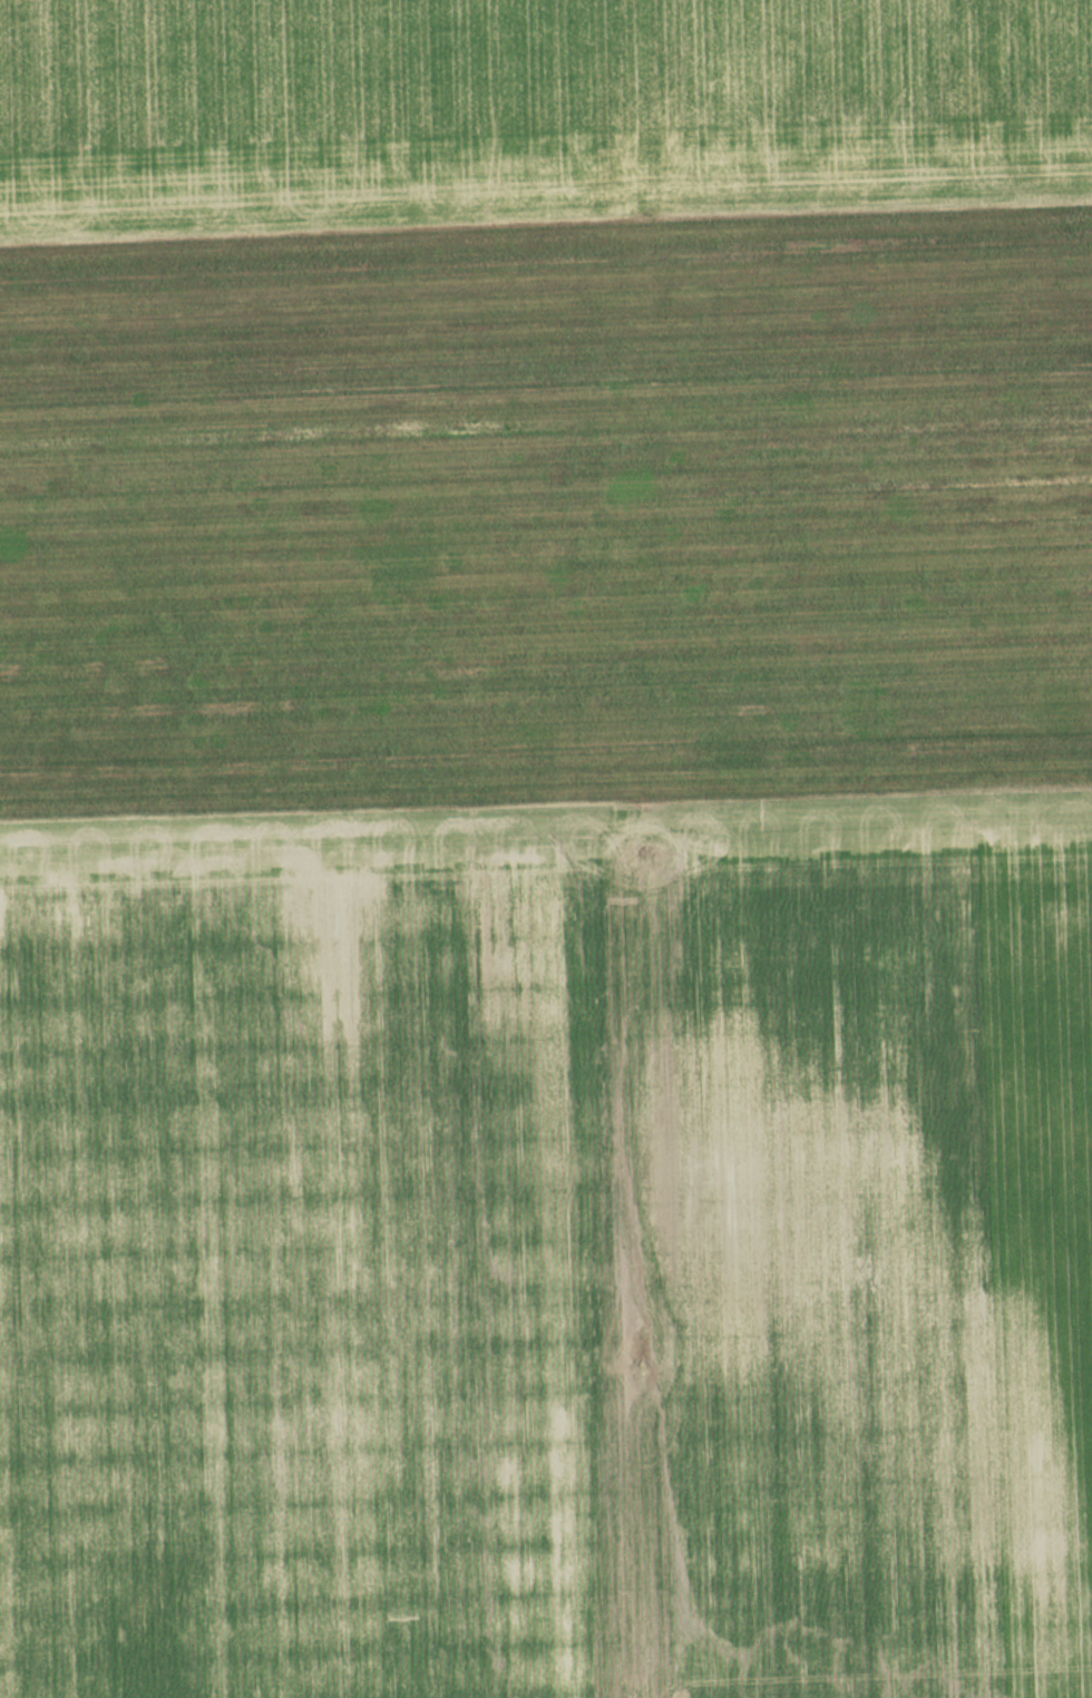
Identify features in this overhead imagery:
crop: (529, 110)
crop: (548, 959)

